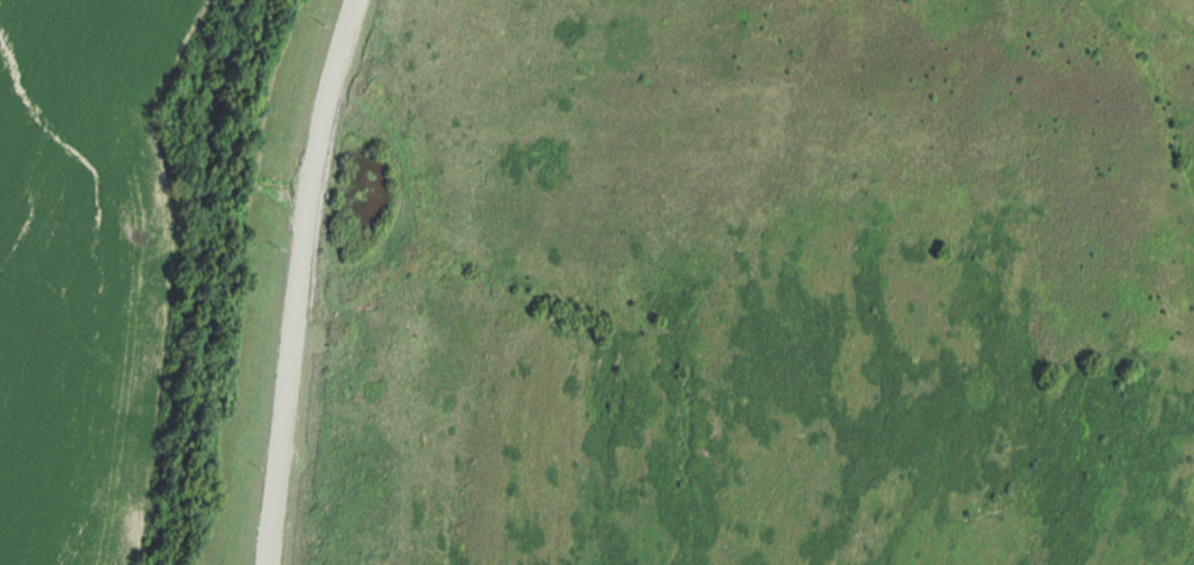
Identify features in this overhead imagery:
road: (300, 280)

